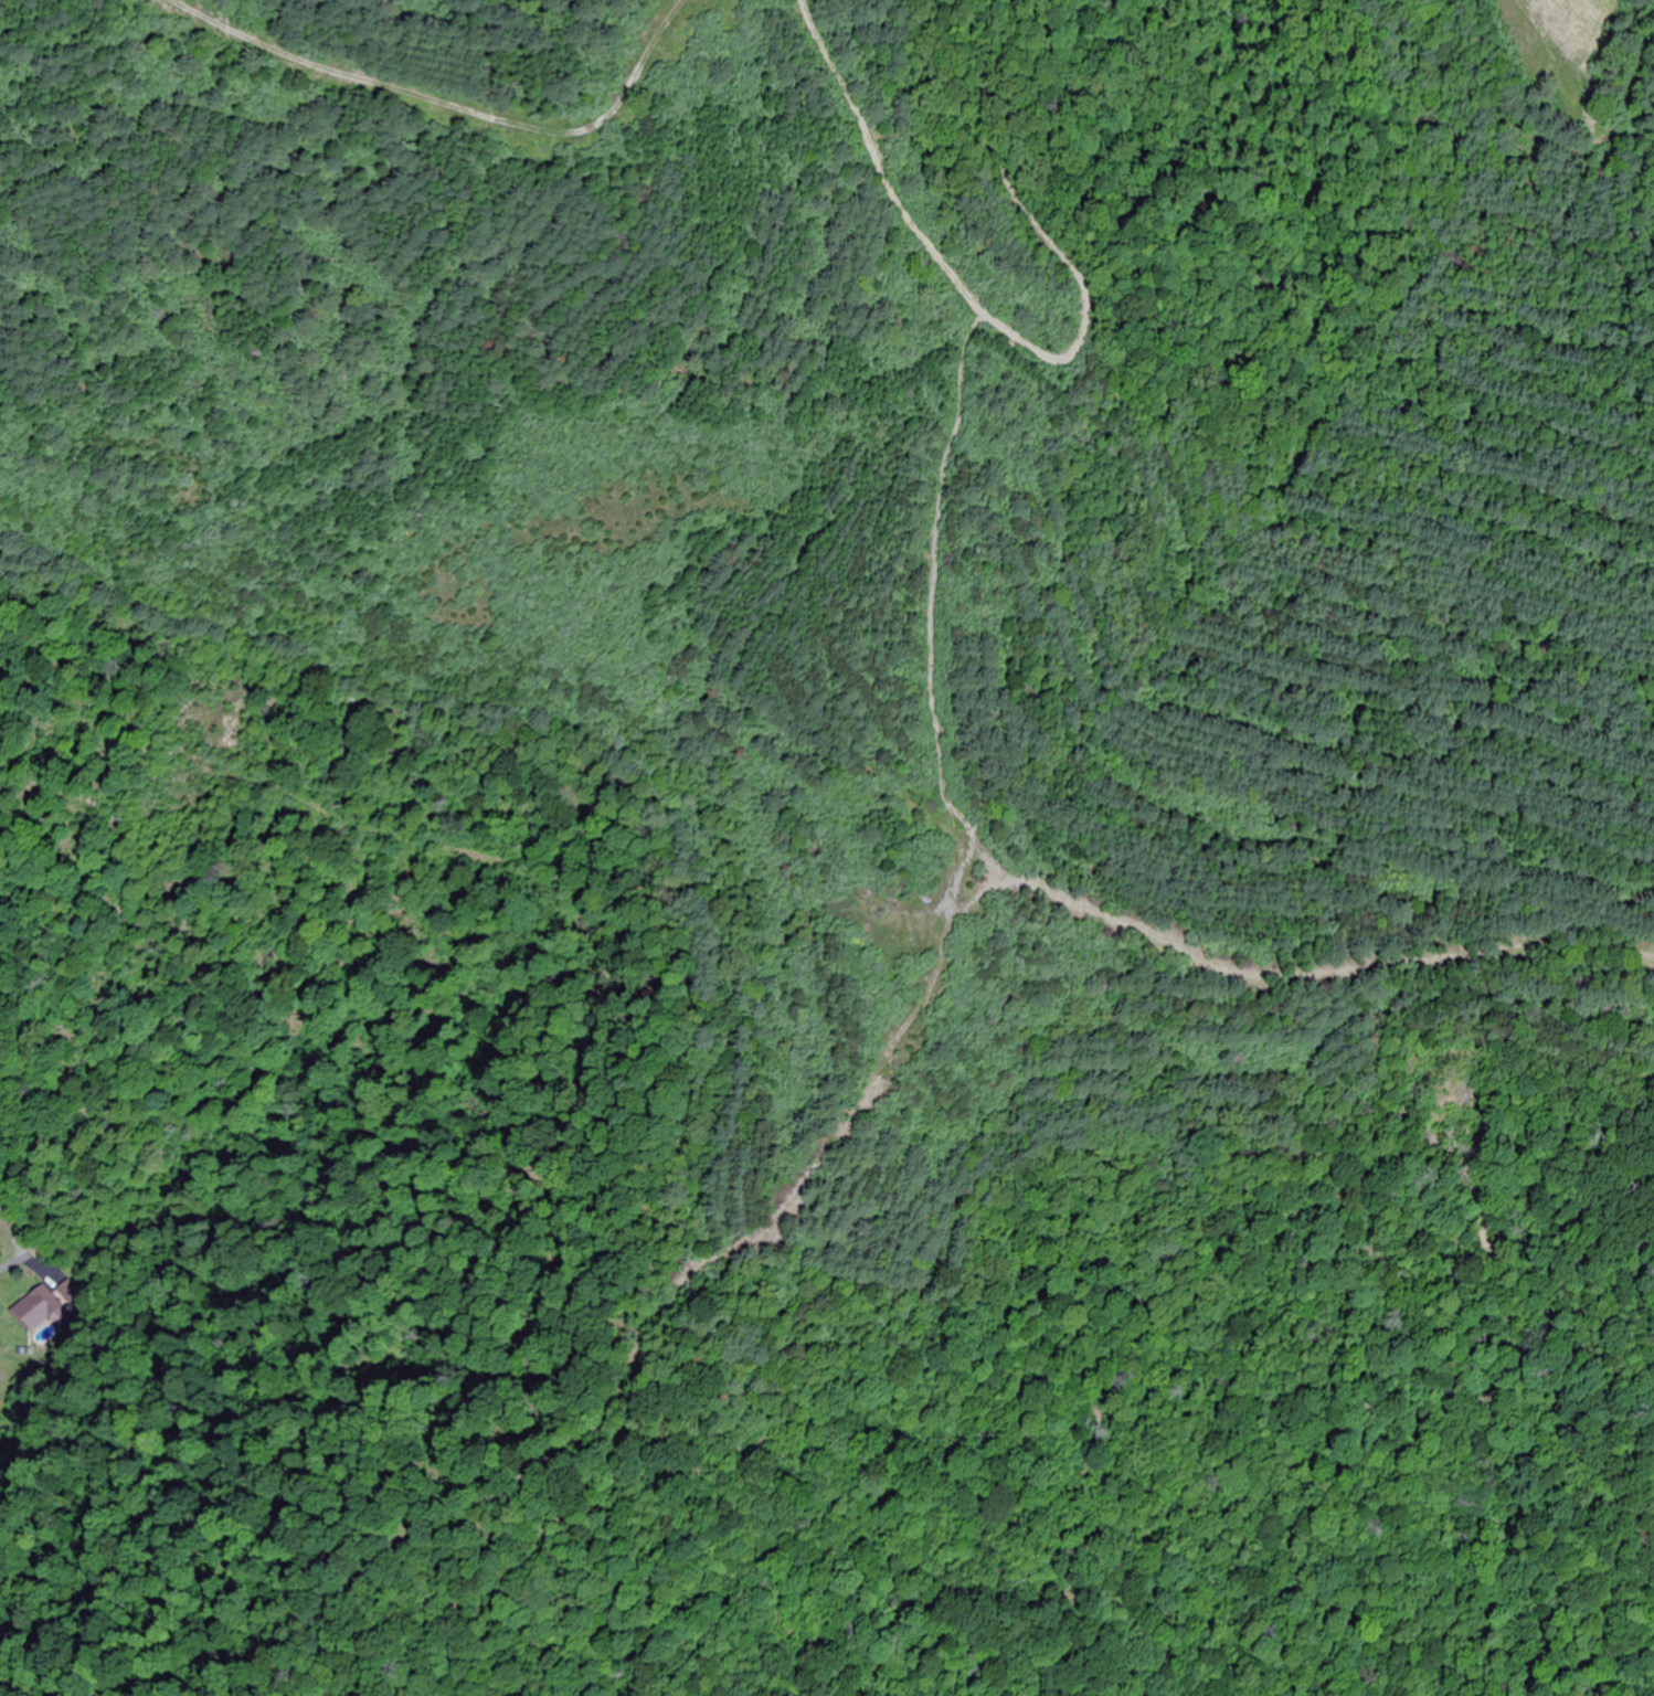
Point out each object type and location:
road: (14, 1263)
building: (67, 1293)
building: (39, 1310)

